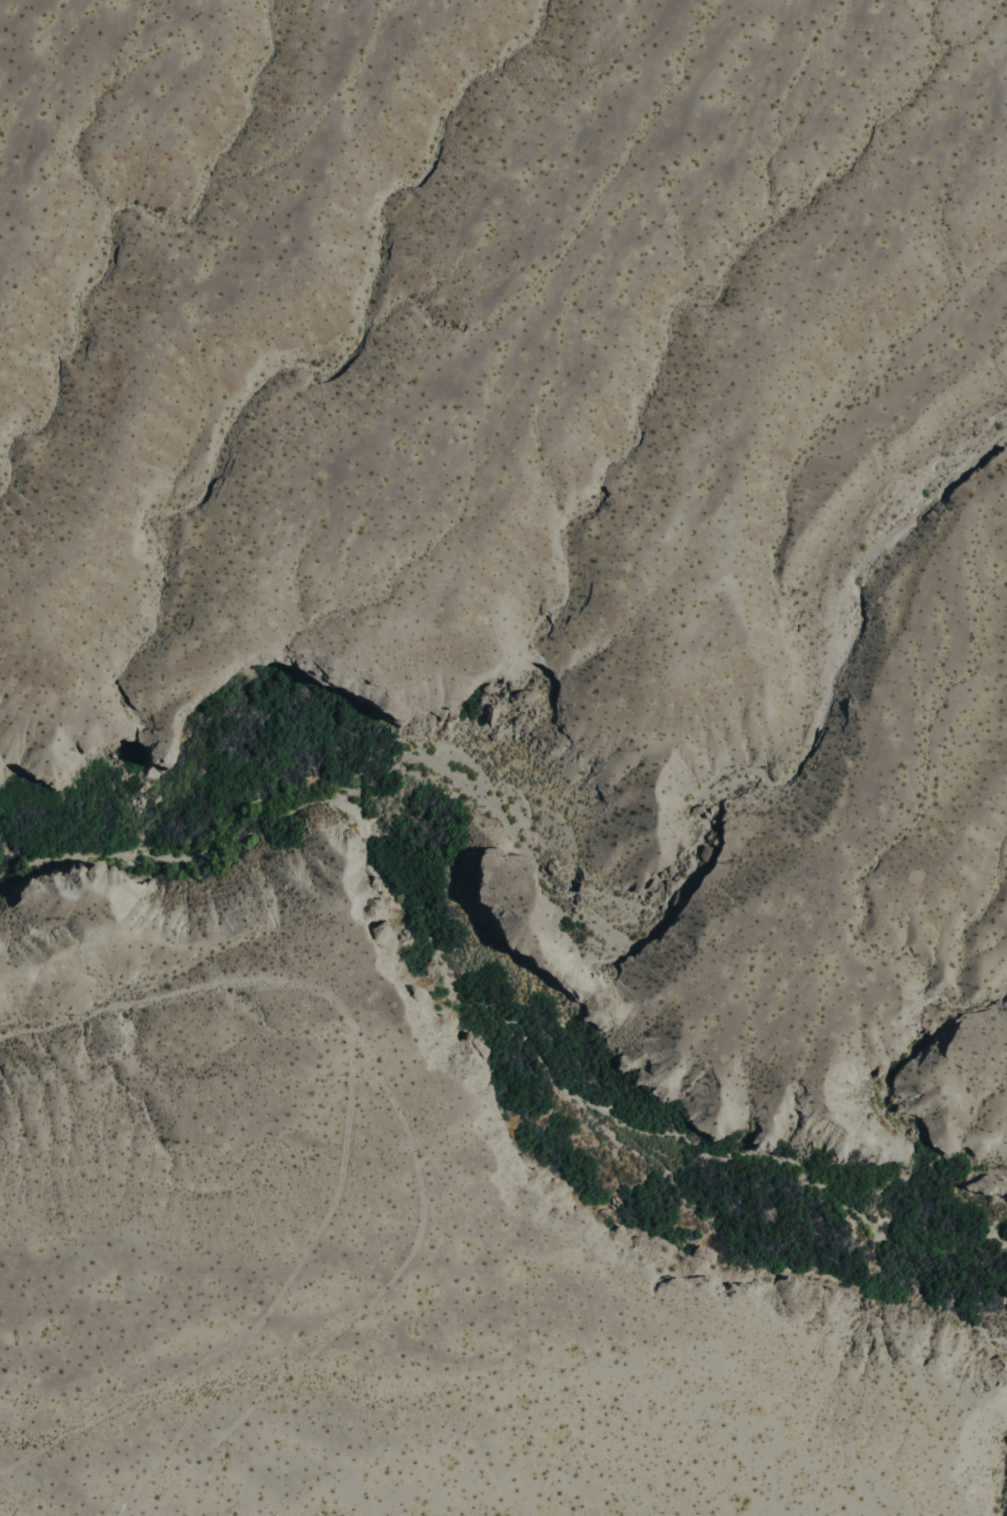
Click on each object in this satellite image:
building: (704, 1252)

